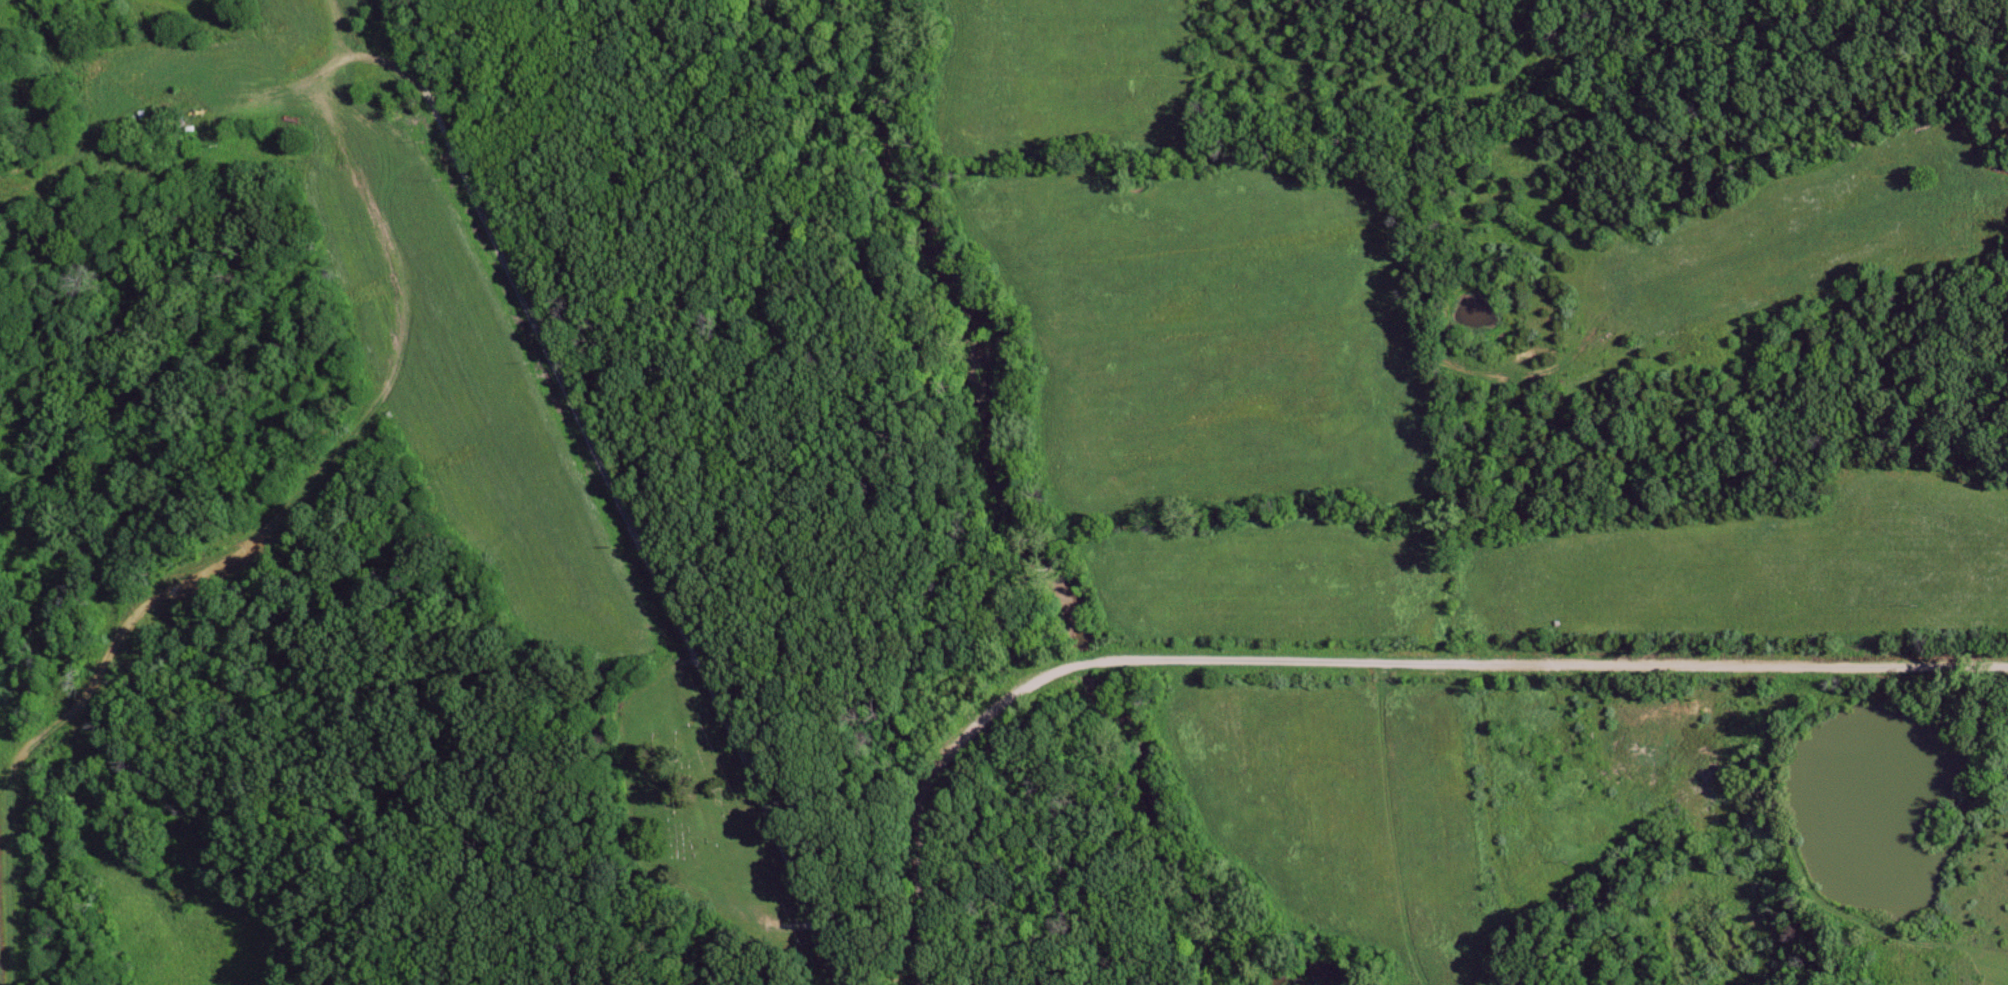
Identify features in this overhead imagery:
road: (641, 534)
road: (1340, 658)
park: (695, 808)

